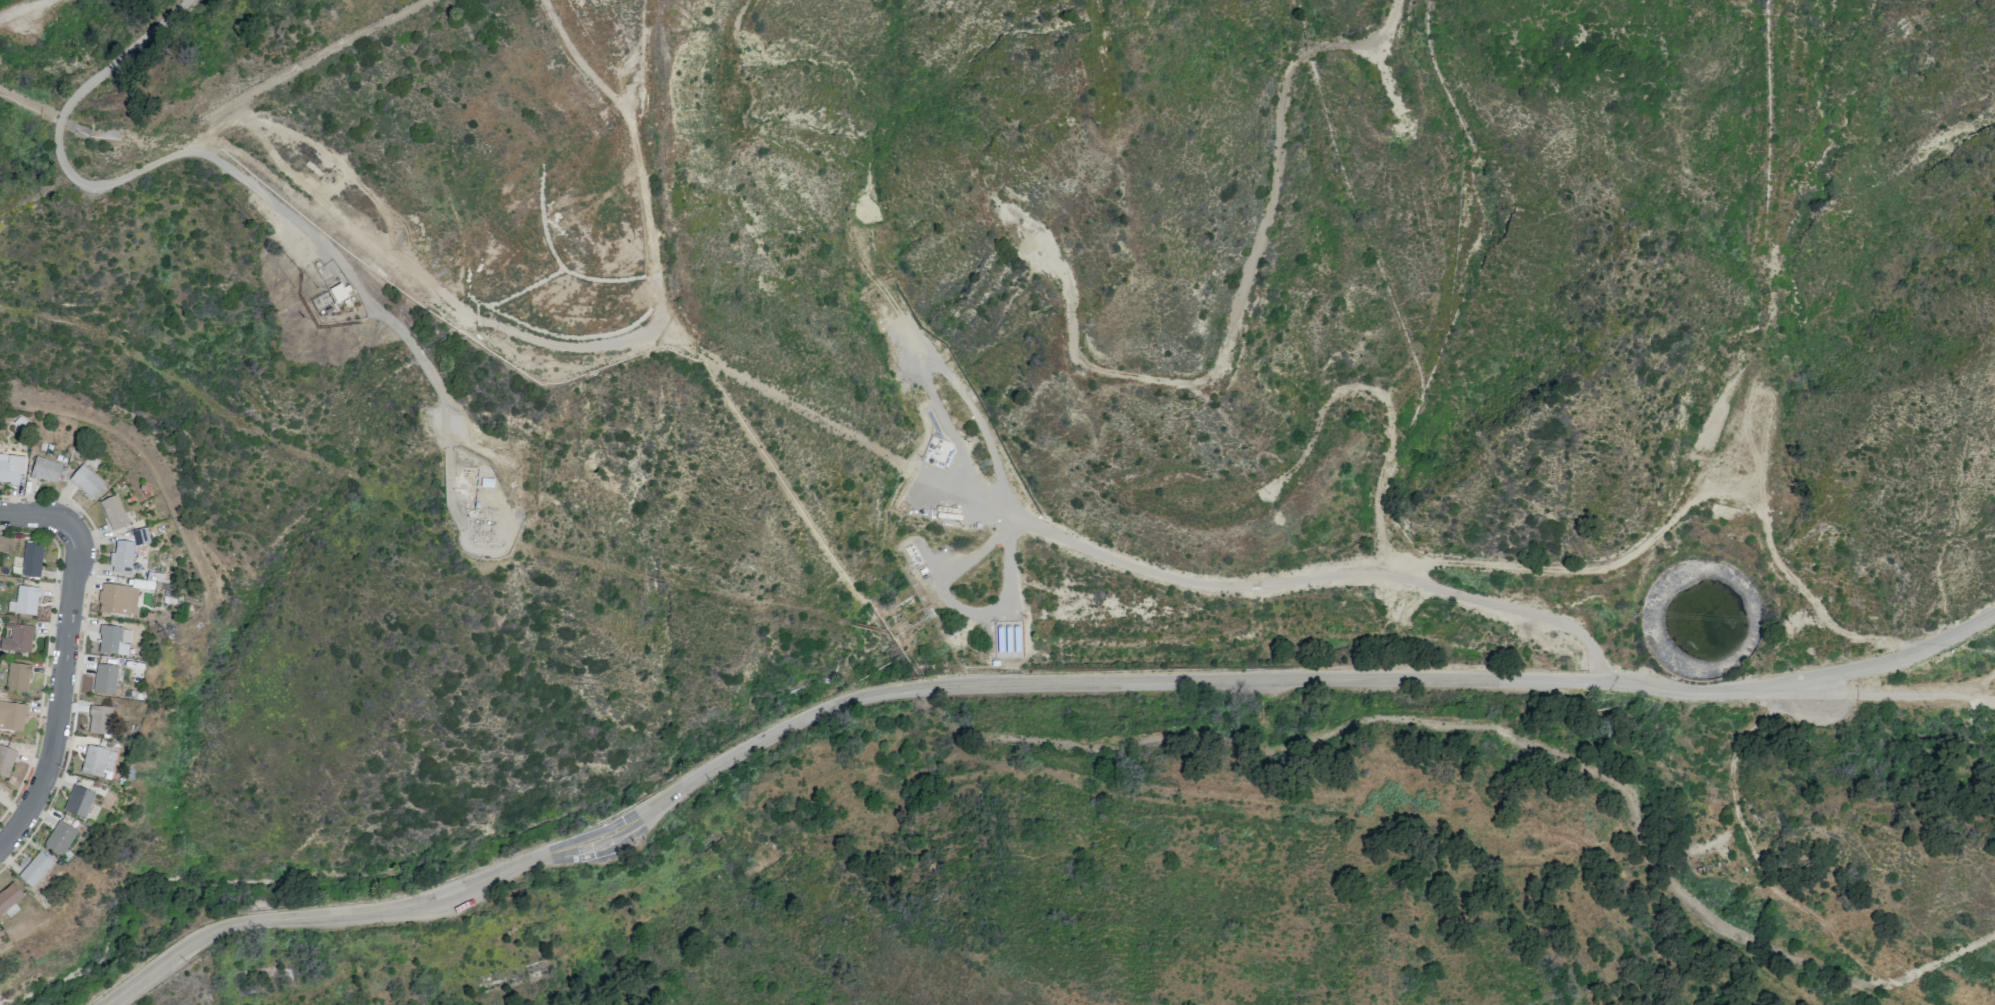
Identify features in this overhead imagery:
building: (11, 468)
building: (45, 470)
building: (85, 481)
building: (113, 512)
road: (39, 514)
building: (140, 536)
building: (5, 544)
building: (121, 557)
building: (31, 559)
building: (148, 581)
road: (1190, 585)
building: (118, 599)
building: (24, 601)
building: (17, 638)
building: (112, 640)
building: (18, 677)
building: (104, 679)
road: (1021, 681)
road: (60, 693)
road: (1902, 695)
building: (12, 716)
building: (99, 720)
building: (6, 759)
building: (97, 761)
building: (78, 801)
building: (60, 838)
building: (35, 869)
building: (9, 899)

